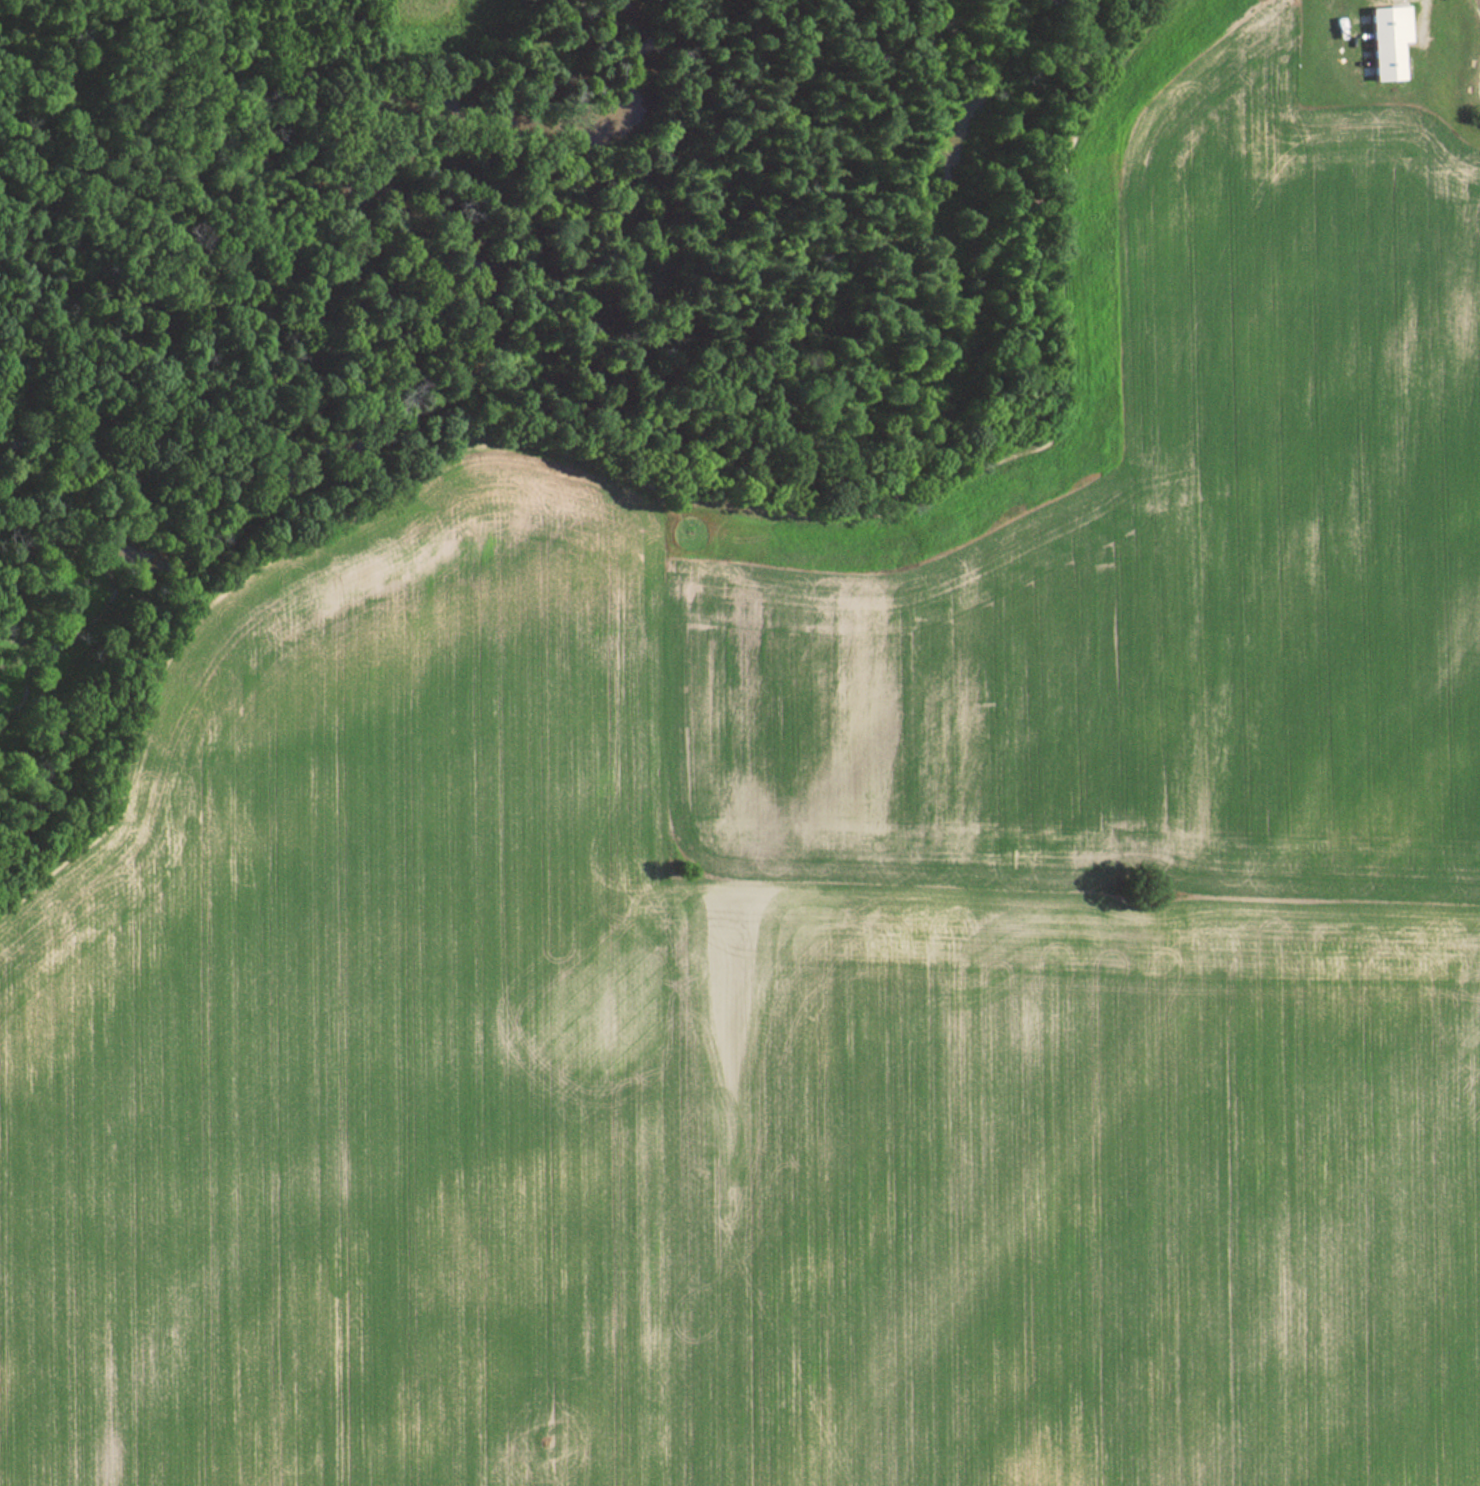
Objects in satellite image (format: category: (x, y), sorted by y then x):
road: (1416, 18)
crop: (453, 28)
building: (1386, 41)
crop: (1144, 553)
crop: (677, 1100)

